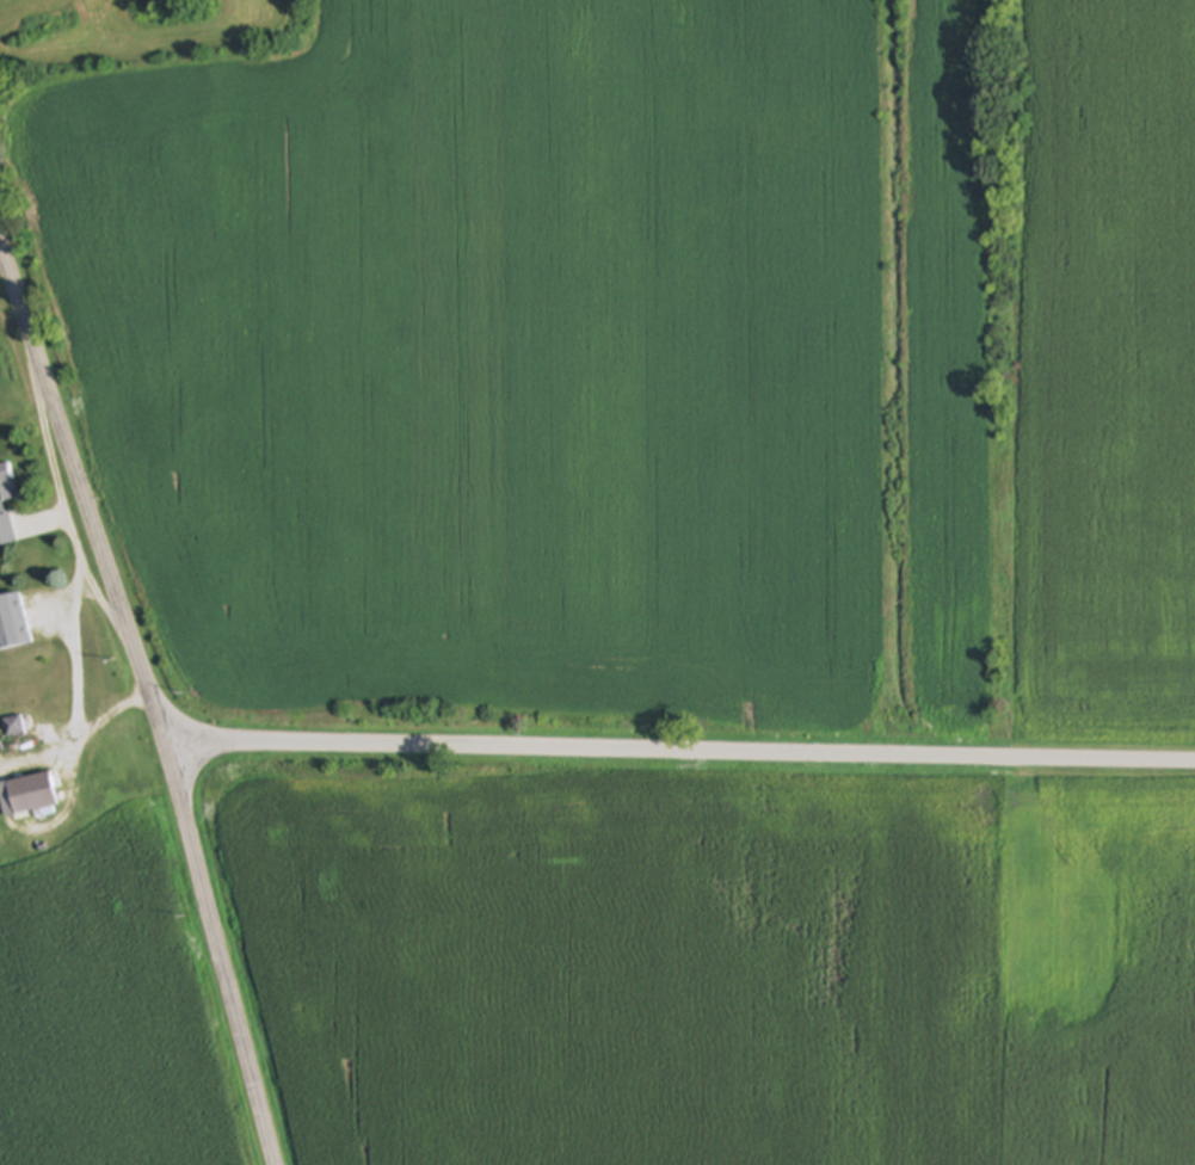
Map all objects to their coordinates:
building: (6, 504)
building: (13, 622)
road: (149, 699)
road: (680, 754)
building: (32, 794)

